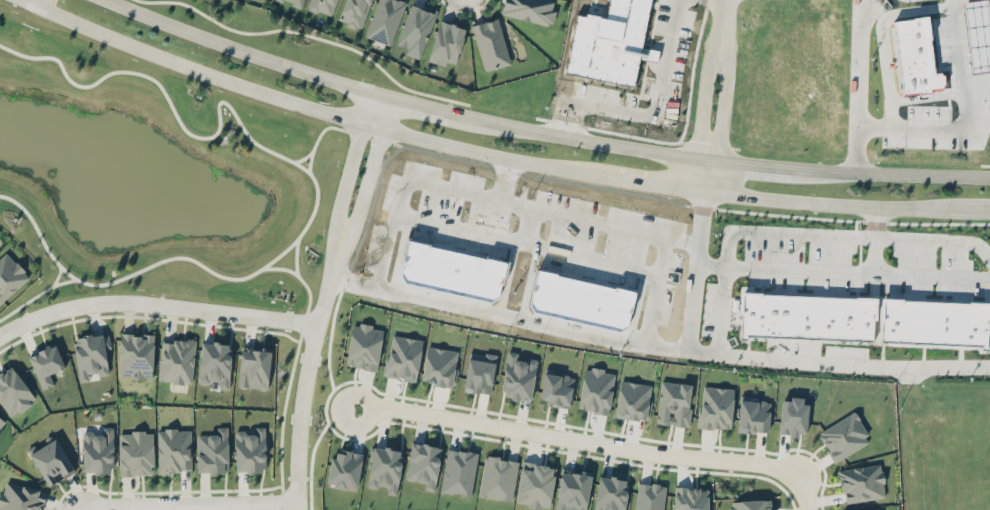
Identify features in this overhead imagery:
building: (295, 2)
building: (322, 6)
road: (722, 8)
building: (530, 10)
building: (354, 12)
building: (385, 20)
building: (416, 30)
building: (446, 43)
building: (491, 44)
road: (241, 50)
road: (199, 70)
road: (860, 85)
road: (701, 103)
road: (724, 106)
road: (441, 107)
road: (380, 111)
road: (658, 111)
road: (932, 131)
road: (597, 141)
road: (485, 154)
road: (350, 162)
road: (749, 162)
road: (828, 170)
road: (921, 174)
road: (313, 179)
road: (506, 181)
road: (647, 184)
road: (365, 185)
road: (483, 198)
road: (841, 204)
road: (986, 210)
road: (868, 217)
road: (884, 217)
road: (802, 231)
road: (874, 250)
road: (843, 271)
building: (10, 275)
road: (695, 284)
road: (655, 292)
road: (155, 304)
building: (808, 316)
road: (529, 322)
building: (934, 322)
building: (364, 346)
building: (91, 355)
building: (136, 355)
building: (403, 357)
building: (177, 360)
road: (853, 361)
building: (215, 363)
building: (46, 364)
building: (439, 365)
building: (254, 368)
road: (306, 371)
building: (480, 372)
building: (518, 377)
building: (557, 387)
building: (596, 390)
building: (13, 391)
building: (633, 400)
building: (674, 403)
building: (716, 407)
building: (754, 415)
building: (793, 415)
building: (2, 421)
building: (844, 436)
road: (576, 440)
building: (250, 449)
building: (98, 450)
building: (174, 450)
building: (213, 450)
building: (136, 453)
building: (52, 461)
building: (424, 464)
building: (345, 468)
building: (385, 468)
building: (459, 472)
building: (498, 478)
building: (862, 483)
building: (535, 484)
building: (573, 490)
road: (805, 490)
building: (611, 493)
building: (650, 496)
building: (21, 497)
building: (691, 498)
road: (186, 503)
building: (751, 504)
road: (75, 508)
building: (870, 509)

